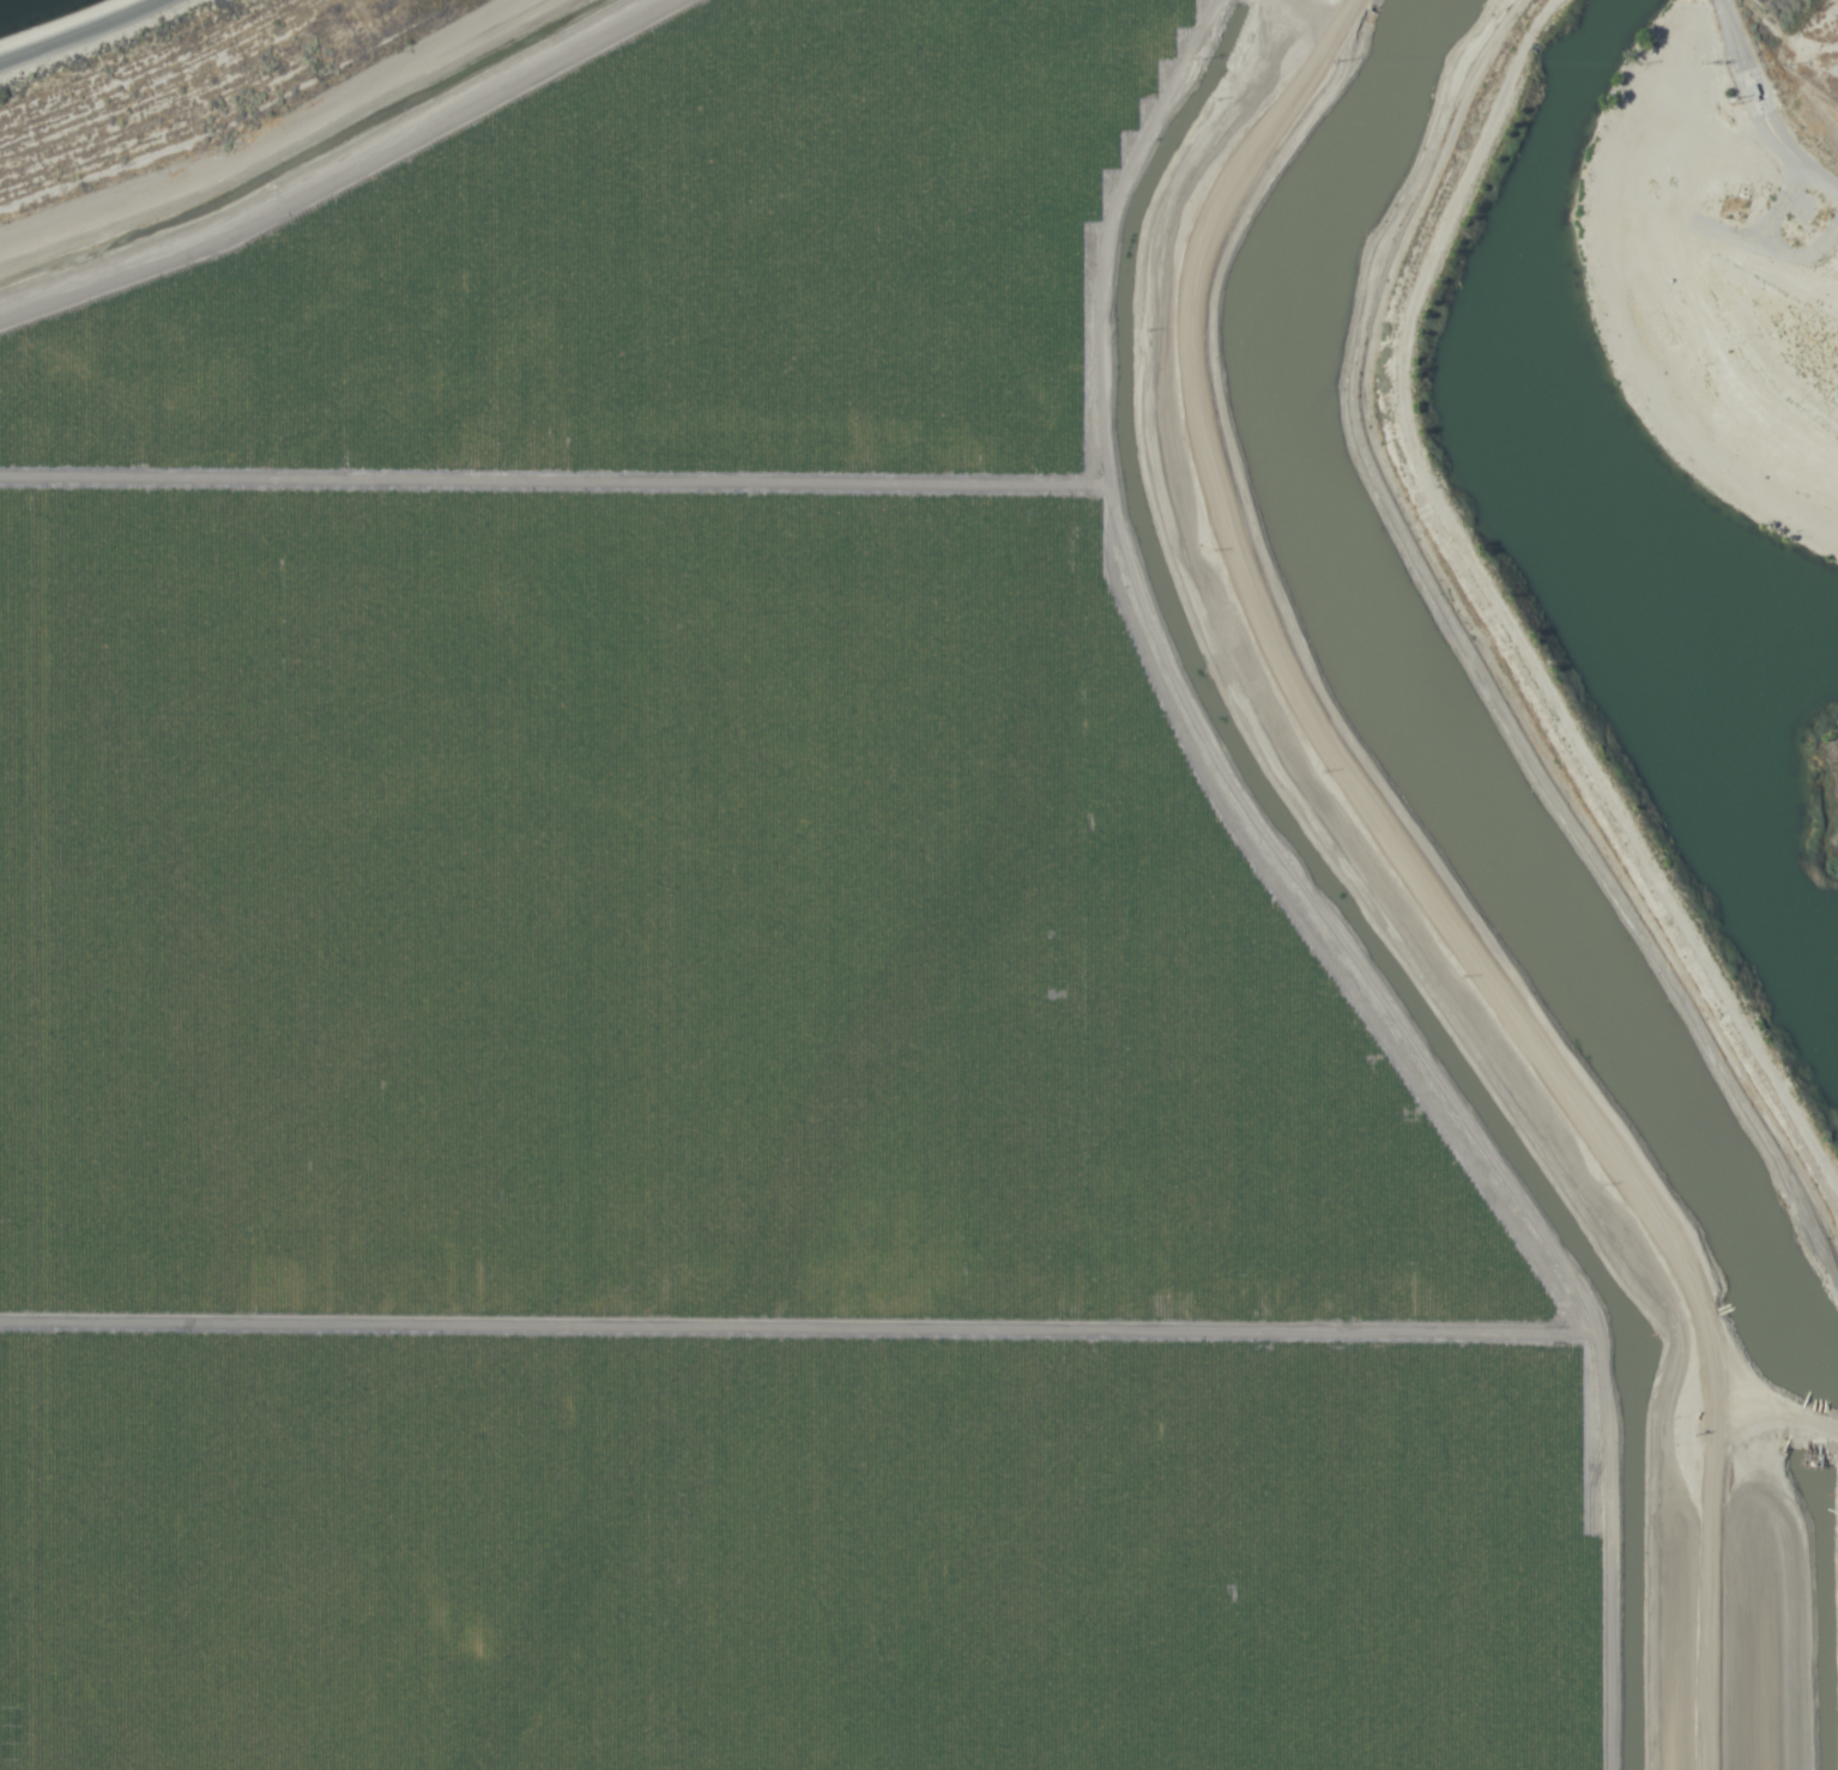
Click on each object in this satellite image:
road: (75, 30)
road: (1761, 107)
road: (1386, 890)
crop: (782, 971)

